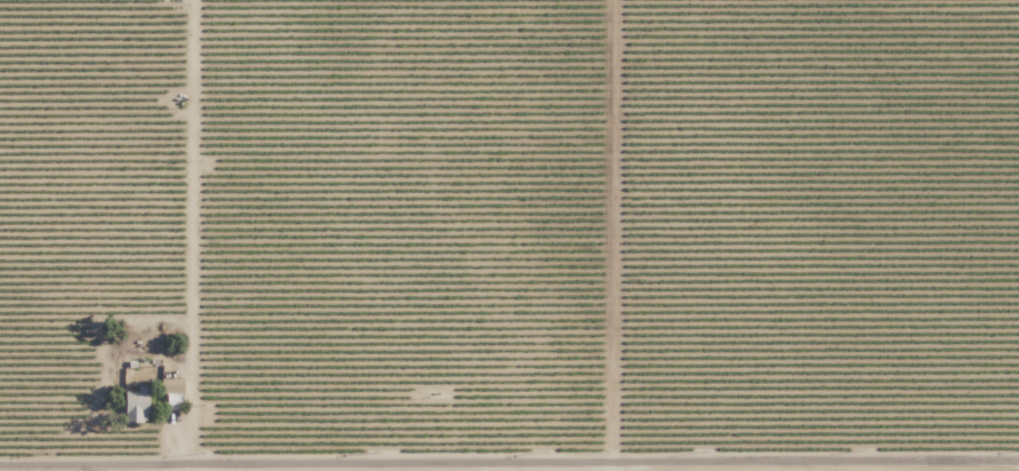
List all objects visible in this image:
building: (137, 405)
road: (509, 468)
road: (610, 469)

